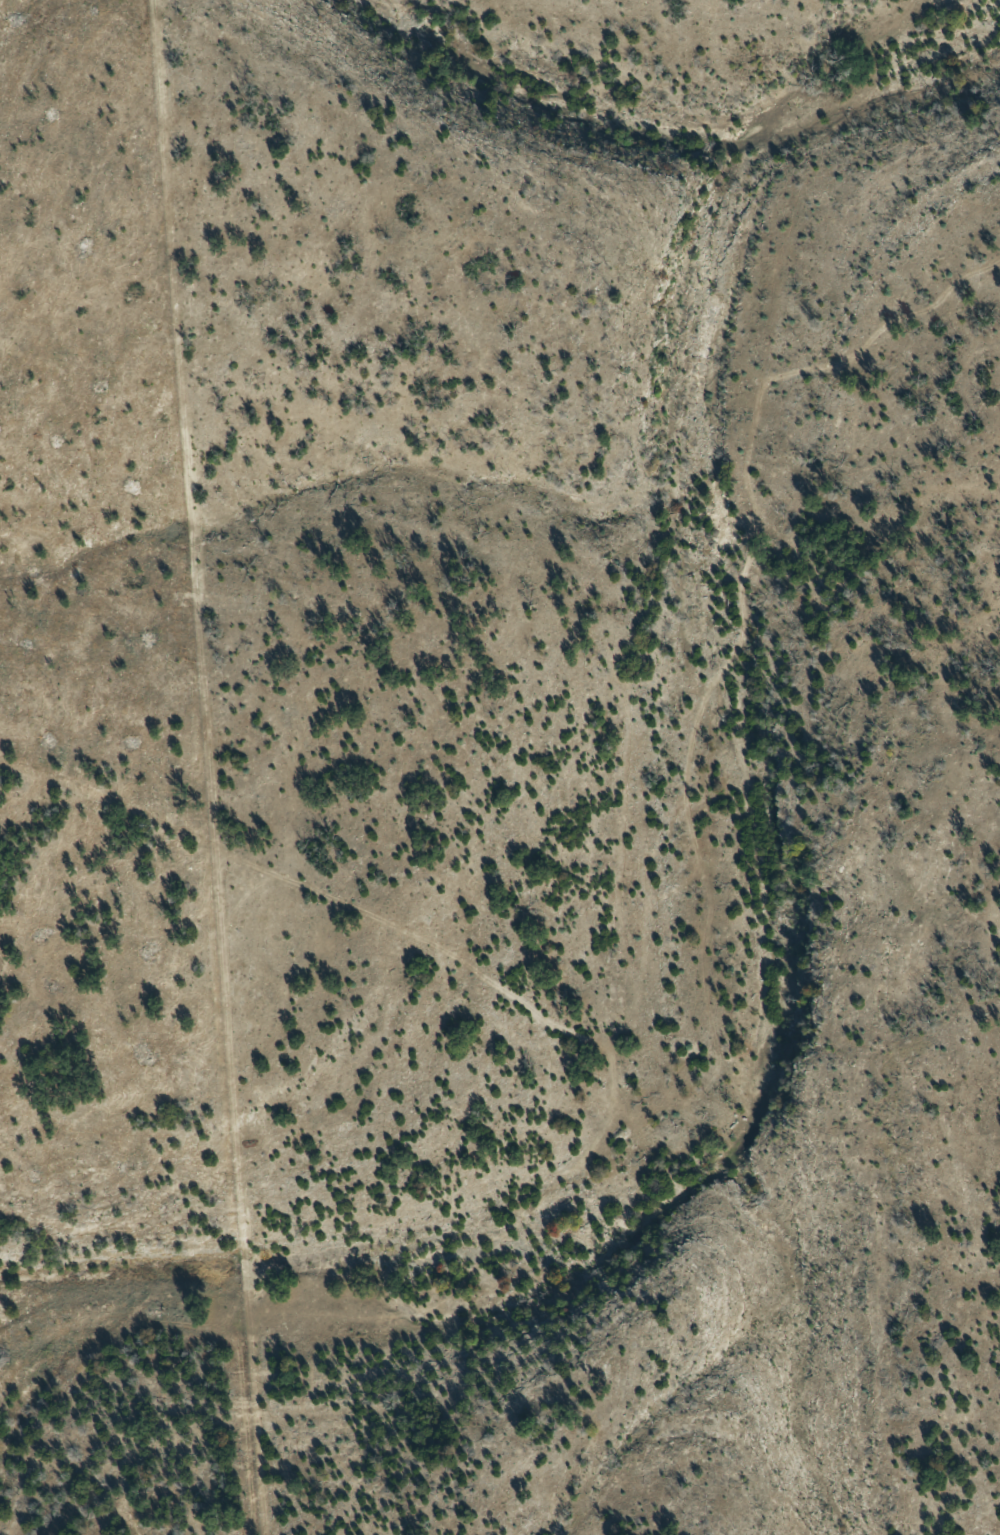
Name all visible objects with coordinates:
road: (614, 1143)

